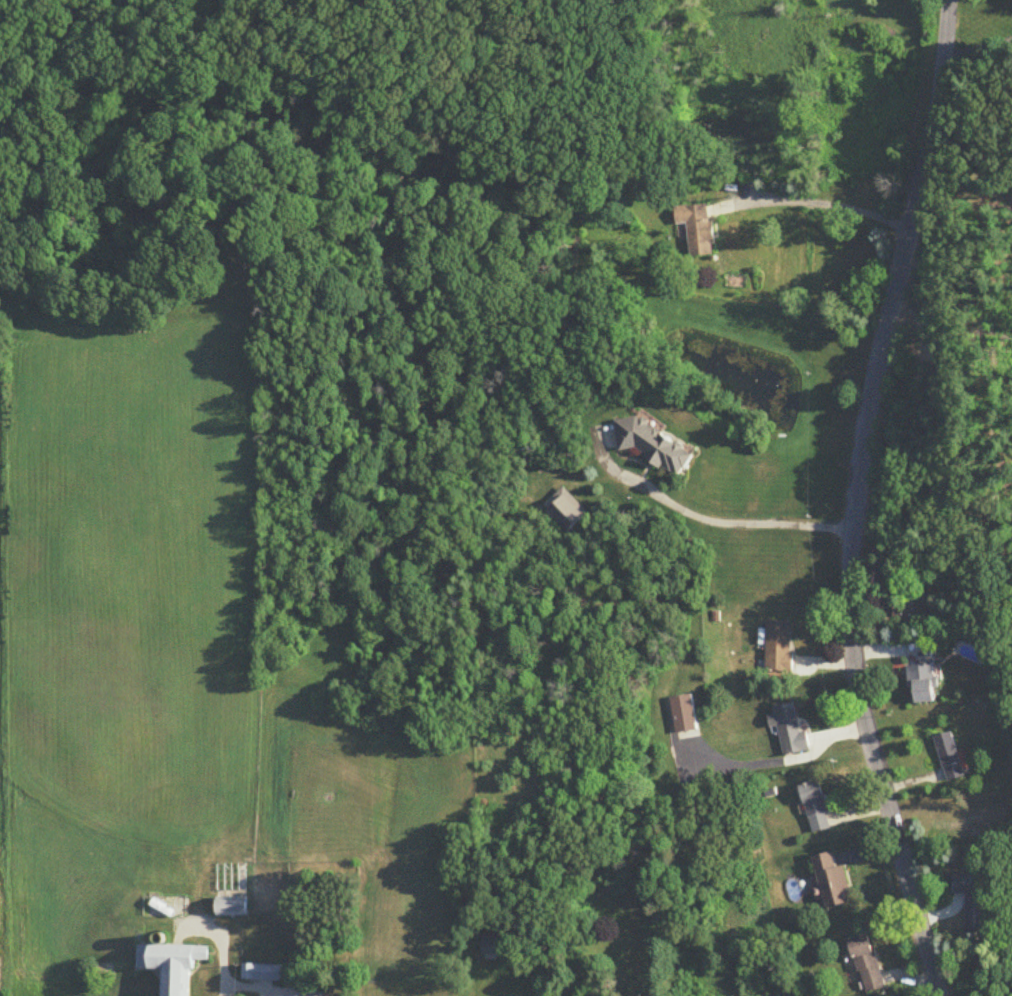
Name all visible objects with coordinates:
road: (977, 49)
road: (823, 203)
building: (699, 229)
building: (656, 447)
road: (857, 499)
building: (566, 510)
road: (741, 521)
building: (910, 603)
building: (779, 647)
building: (923, 686)
building: (686, 718)
building: (792, 732)
building: (949, 757)
building: (817, 807)
building: (833, 882)
building: (975, 899)
building: (232, 908)
building: (493, 947)
road: (222, 952)
building: (173, 964)
building: (868, 964)
building: (262, 973)
road: (270, 988)

